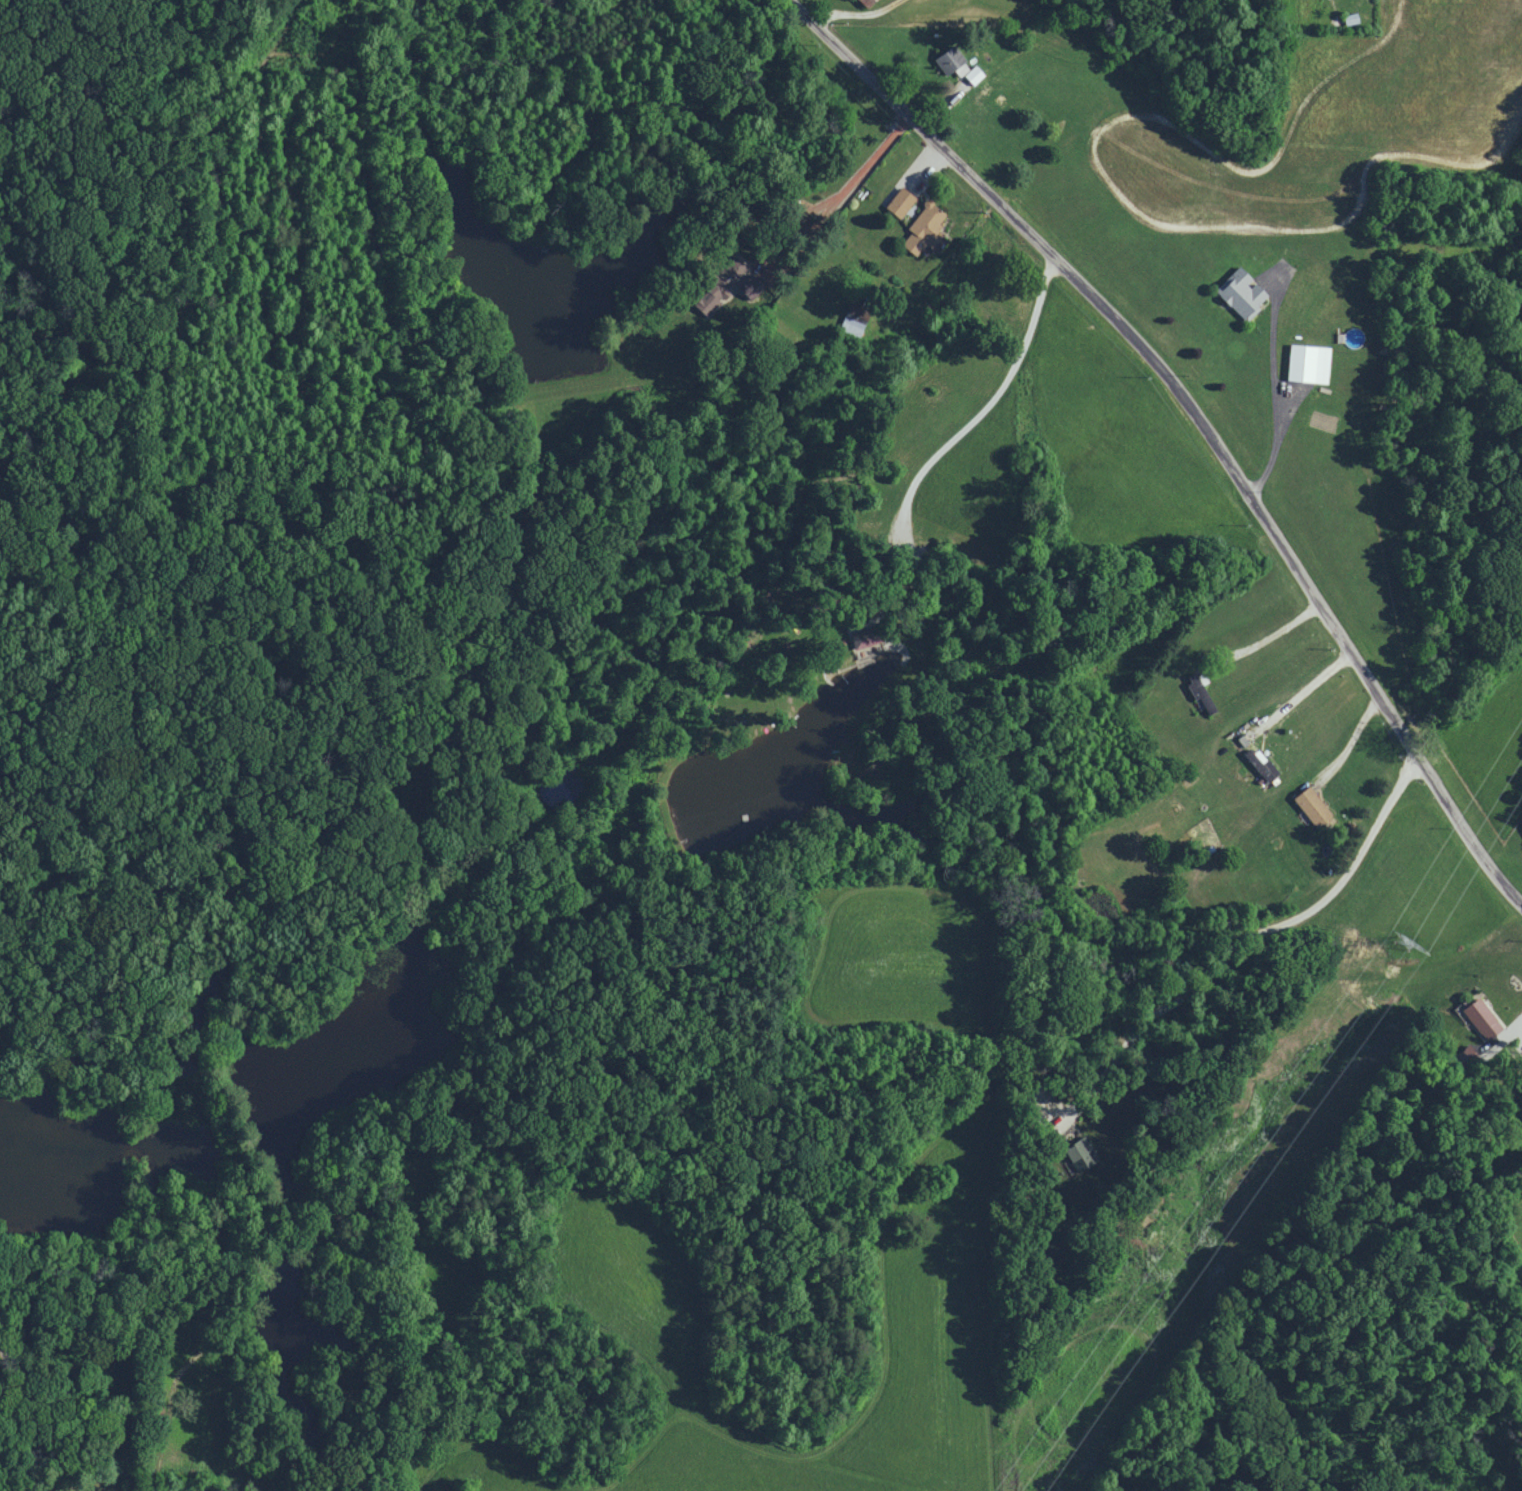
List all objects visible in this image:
building: (862, 2)
road: (855, 13)
building: (947, 58)
building: (959, 68)
building: (971, 75)
road: (826, 199)
building: (897, 202)
building: (921, 228)
building: (718, 284)
building: (1238, 293)
building: (851, 322)
building: (1305, 363)
road: (1268, 399)
road: (1199, 414)
road: (961, 430)
building: (861, 639)
road: (1260, 641)
road: (1297, 692)
building: (1199, 696)
road: (1353, 739)
building: (1259, 764)
building: (1309, 806)
road: (1241, 938)
power tower: (1401, 942)
building: (1479, 1017)
road: (1510, 1020)
building: (1076, 1152)
road: (43, 1447)

